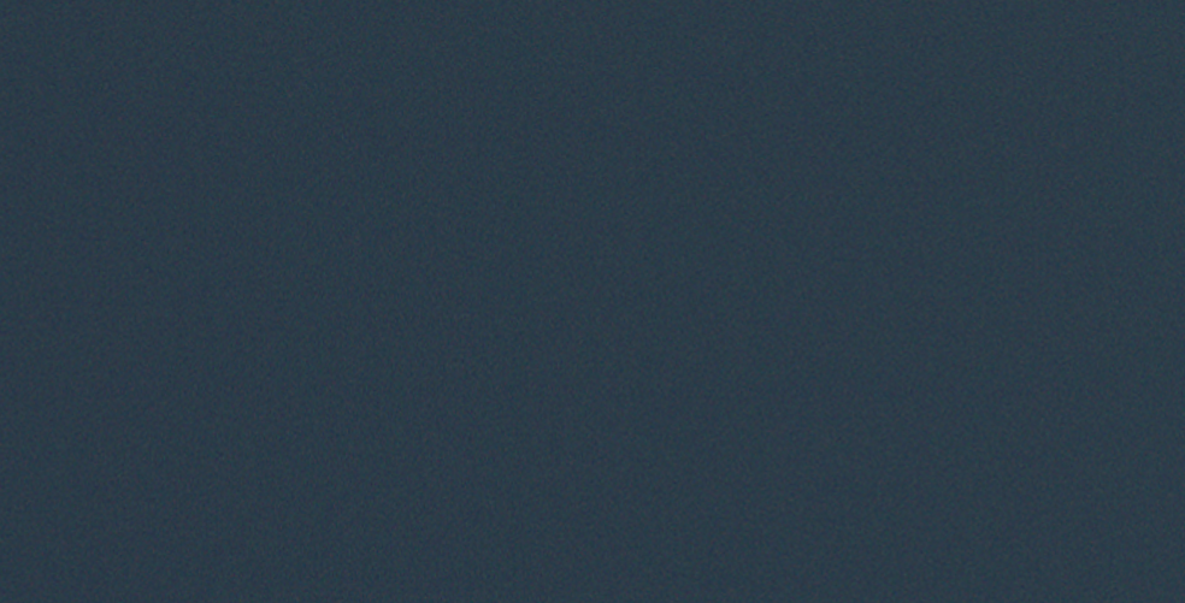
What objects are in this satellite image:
river: (1010, 203)

